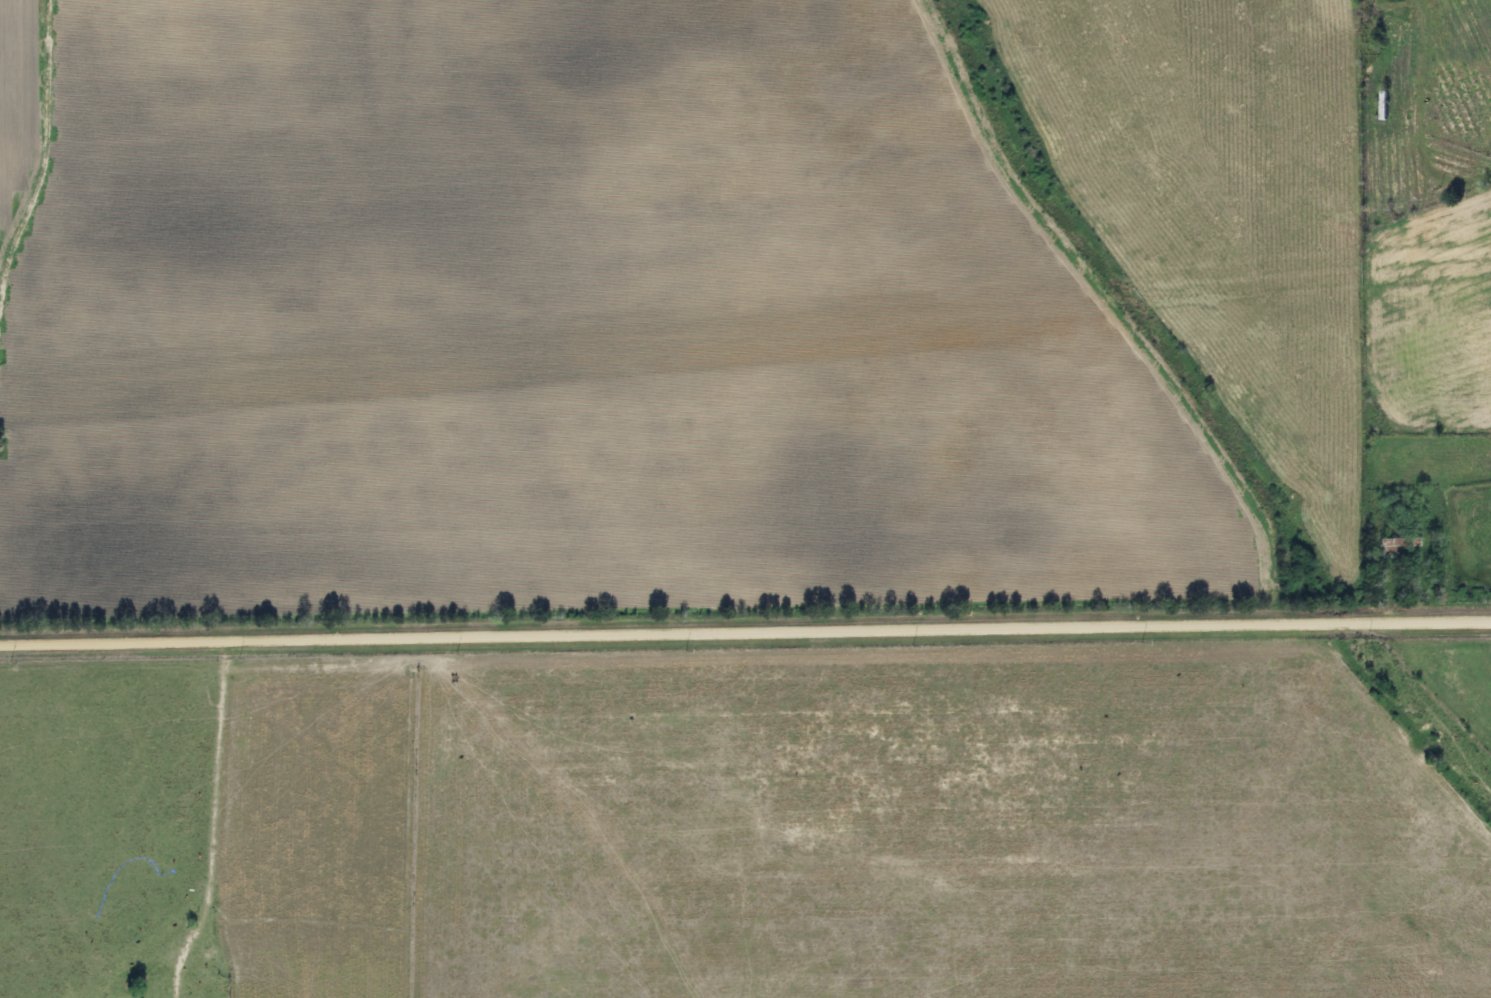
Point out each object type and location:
building: (1377, 104)
building: (1381, 548)
road: (745, 633)
road: (223, 798)

